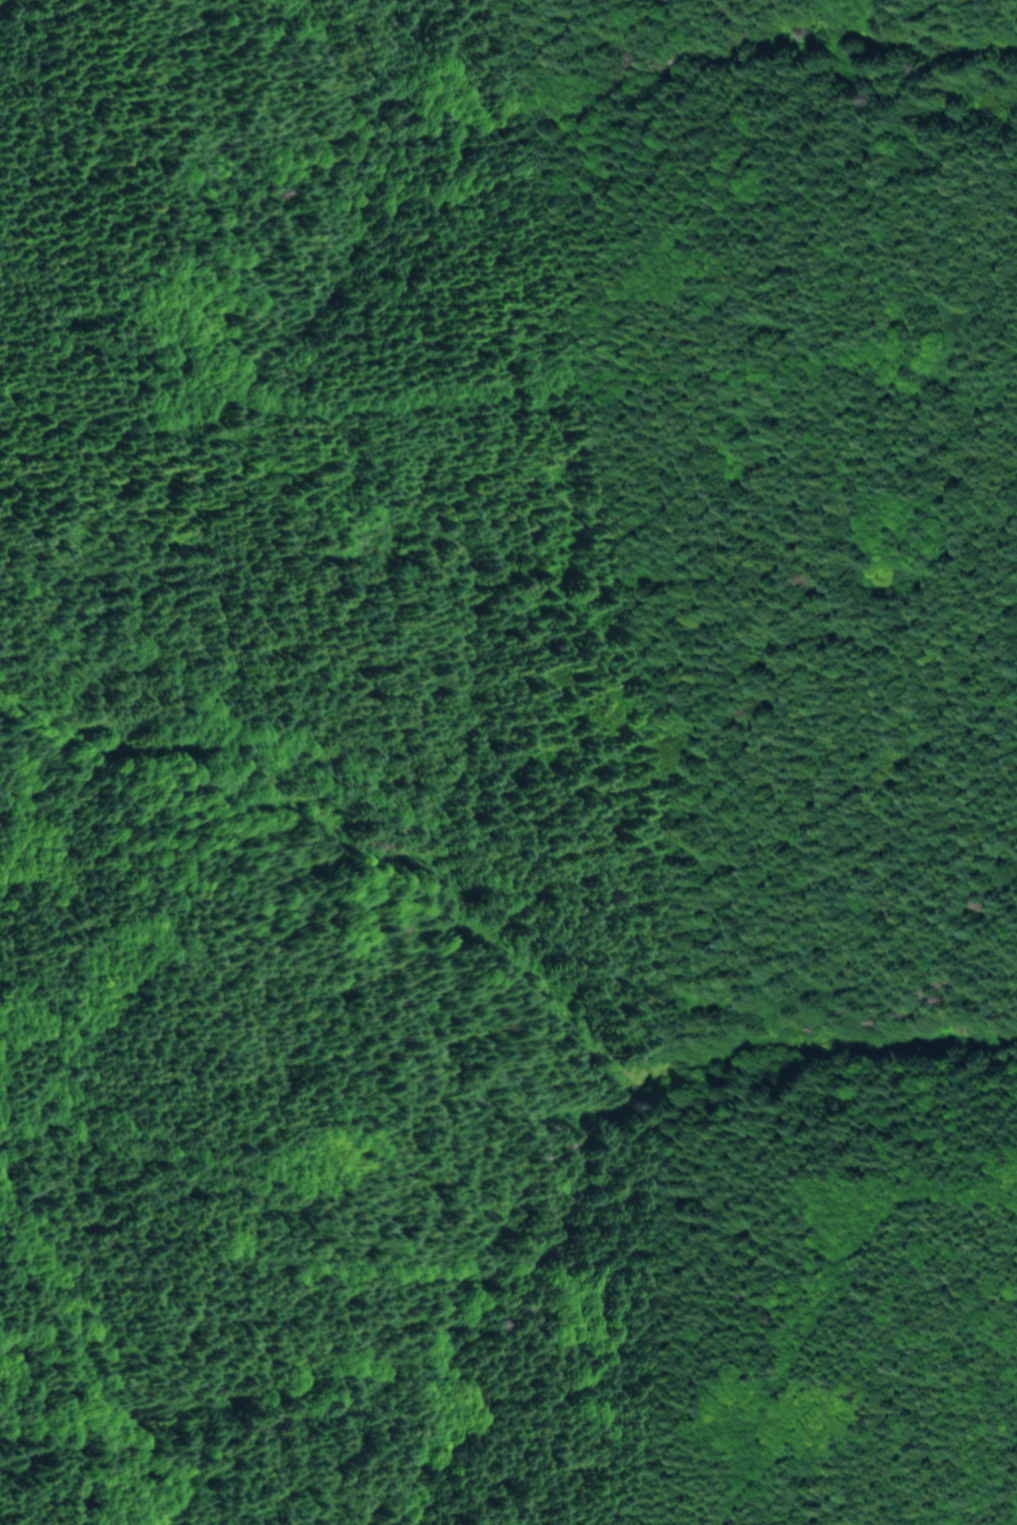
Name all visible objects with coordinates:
road: (36, 1307)

